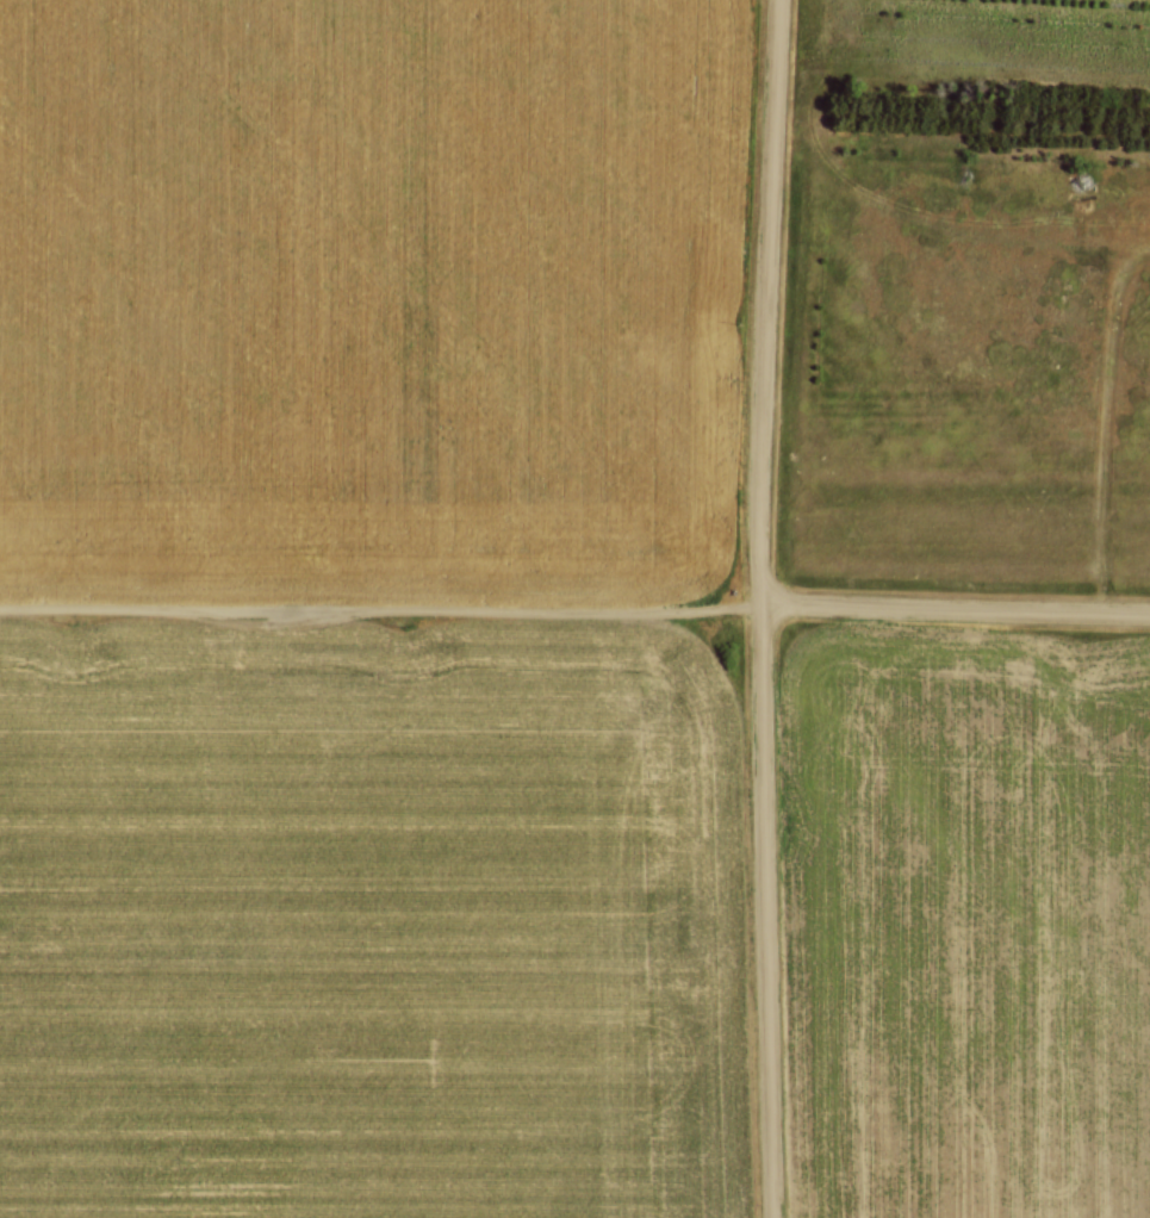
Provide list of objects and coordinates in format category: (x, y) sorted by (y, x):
crop: (369, 292)
road: (757, 608)
road: (574, 609)
crop: (362, 920)
crop: (964, 920)

